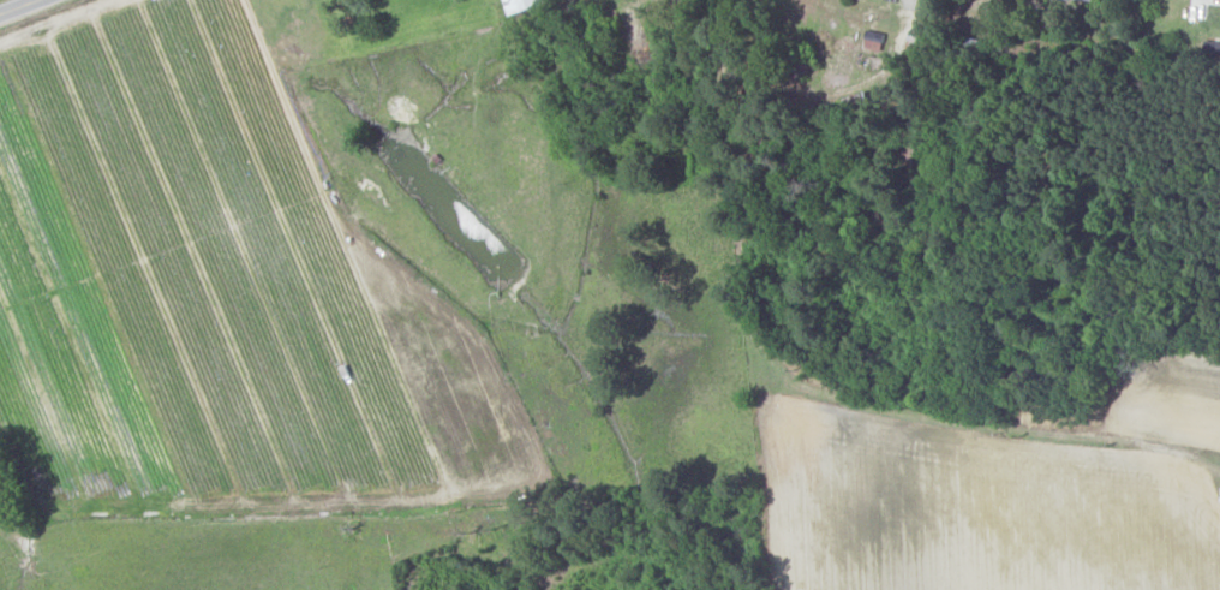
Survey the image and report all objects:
building: (1089, 0)
building: (524, 5)
road: (20, 7)
road: (261, 560)

